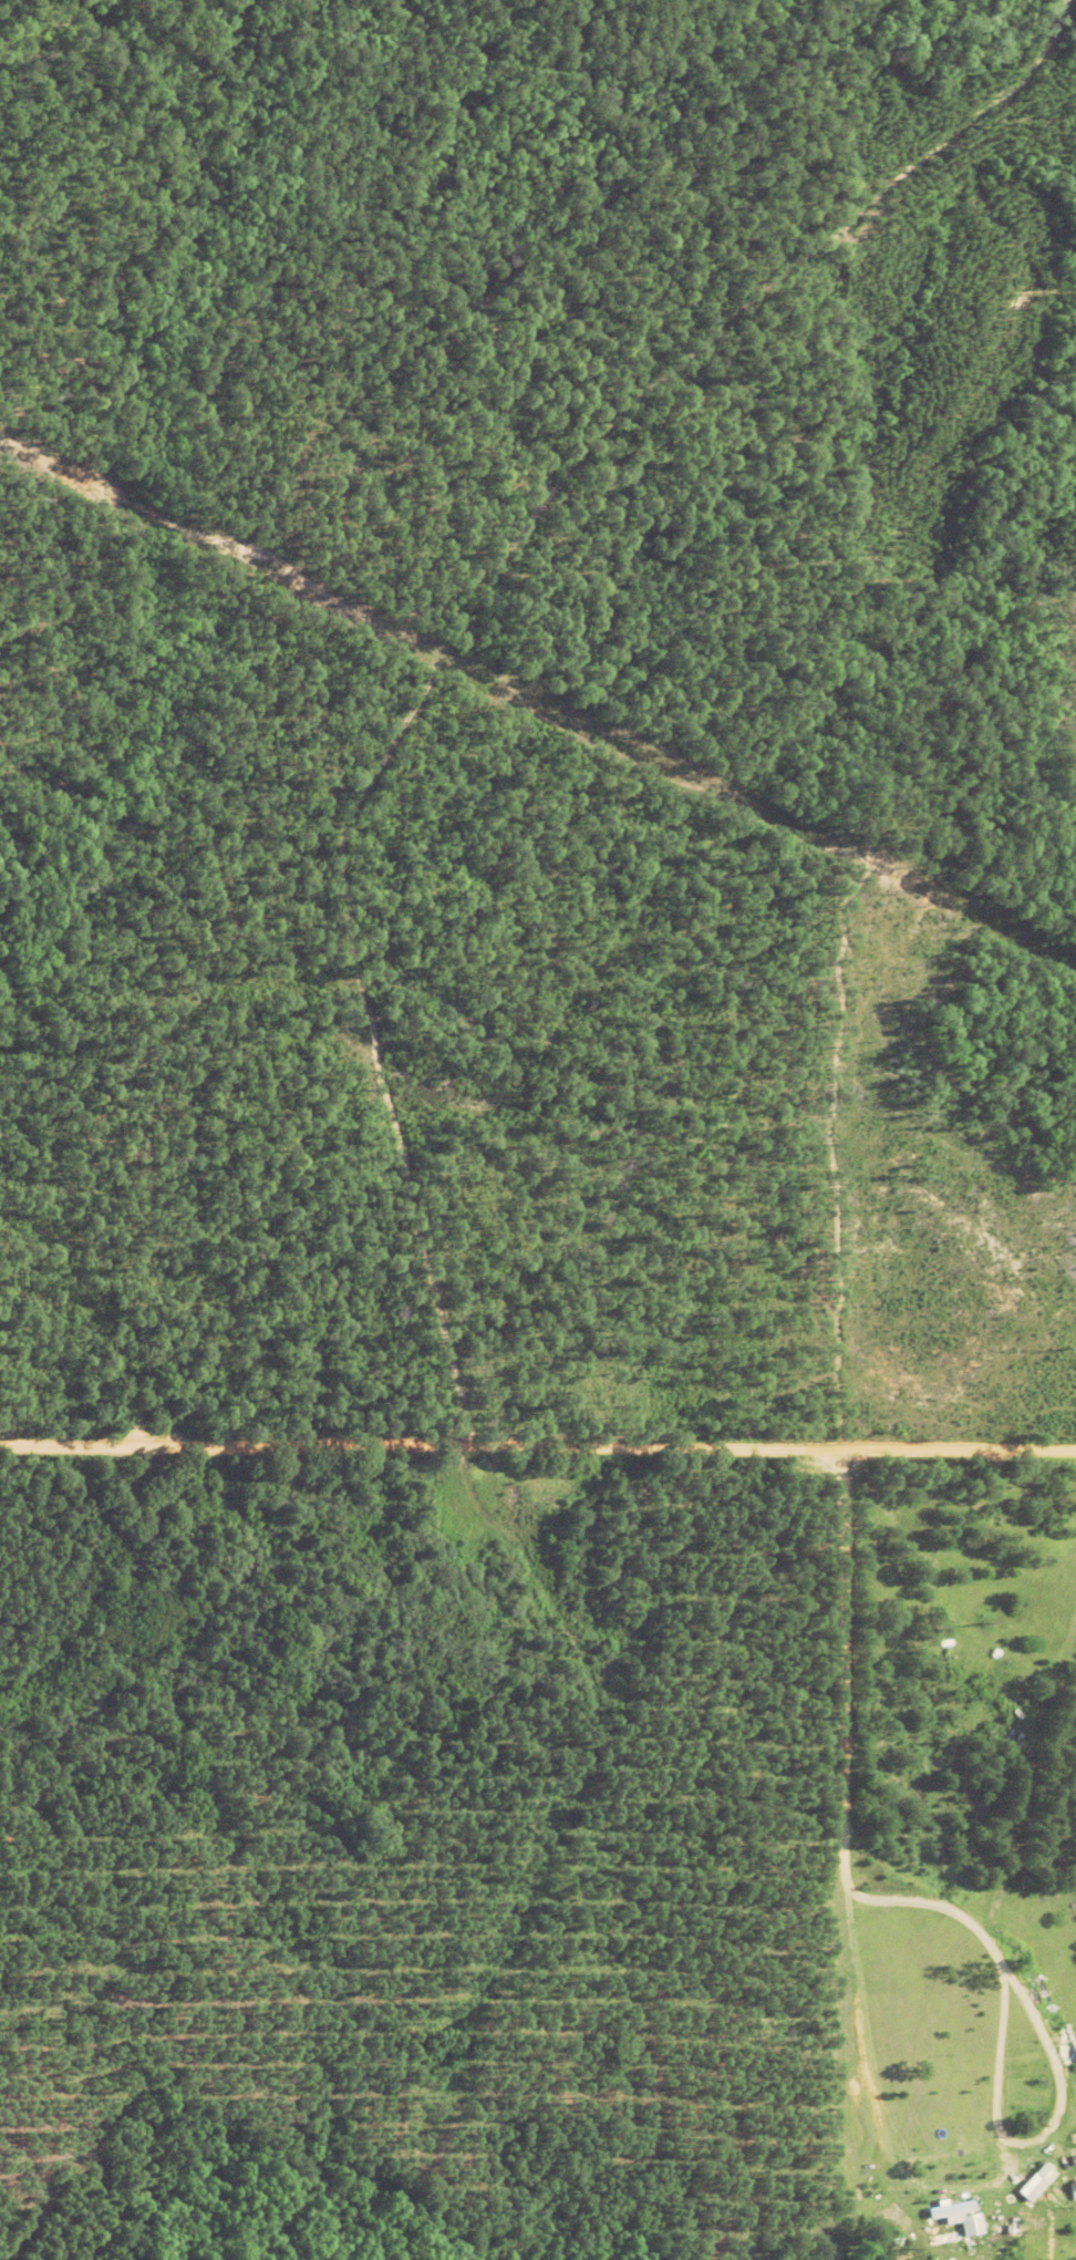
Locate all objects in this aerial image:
road: (537, 1452)
road: (846, 1850)
road: (996, 2080)
road: (875, 2099)
building: (1074, 2191)
building: (952, 2212)
building: (1001, 2230)

